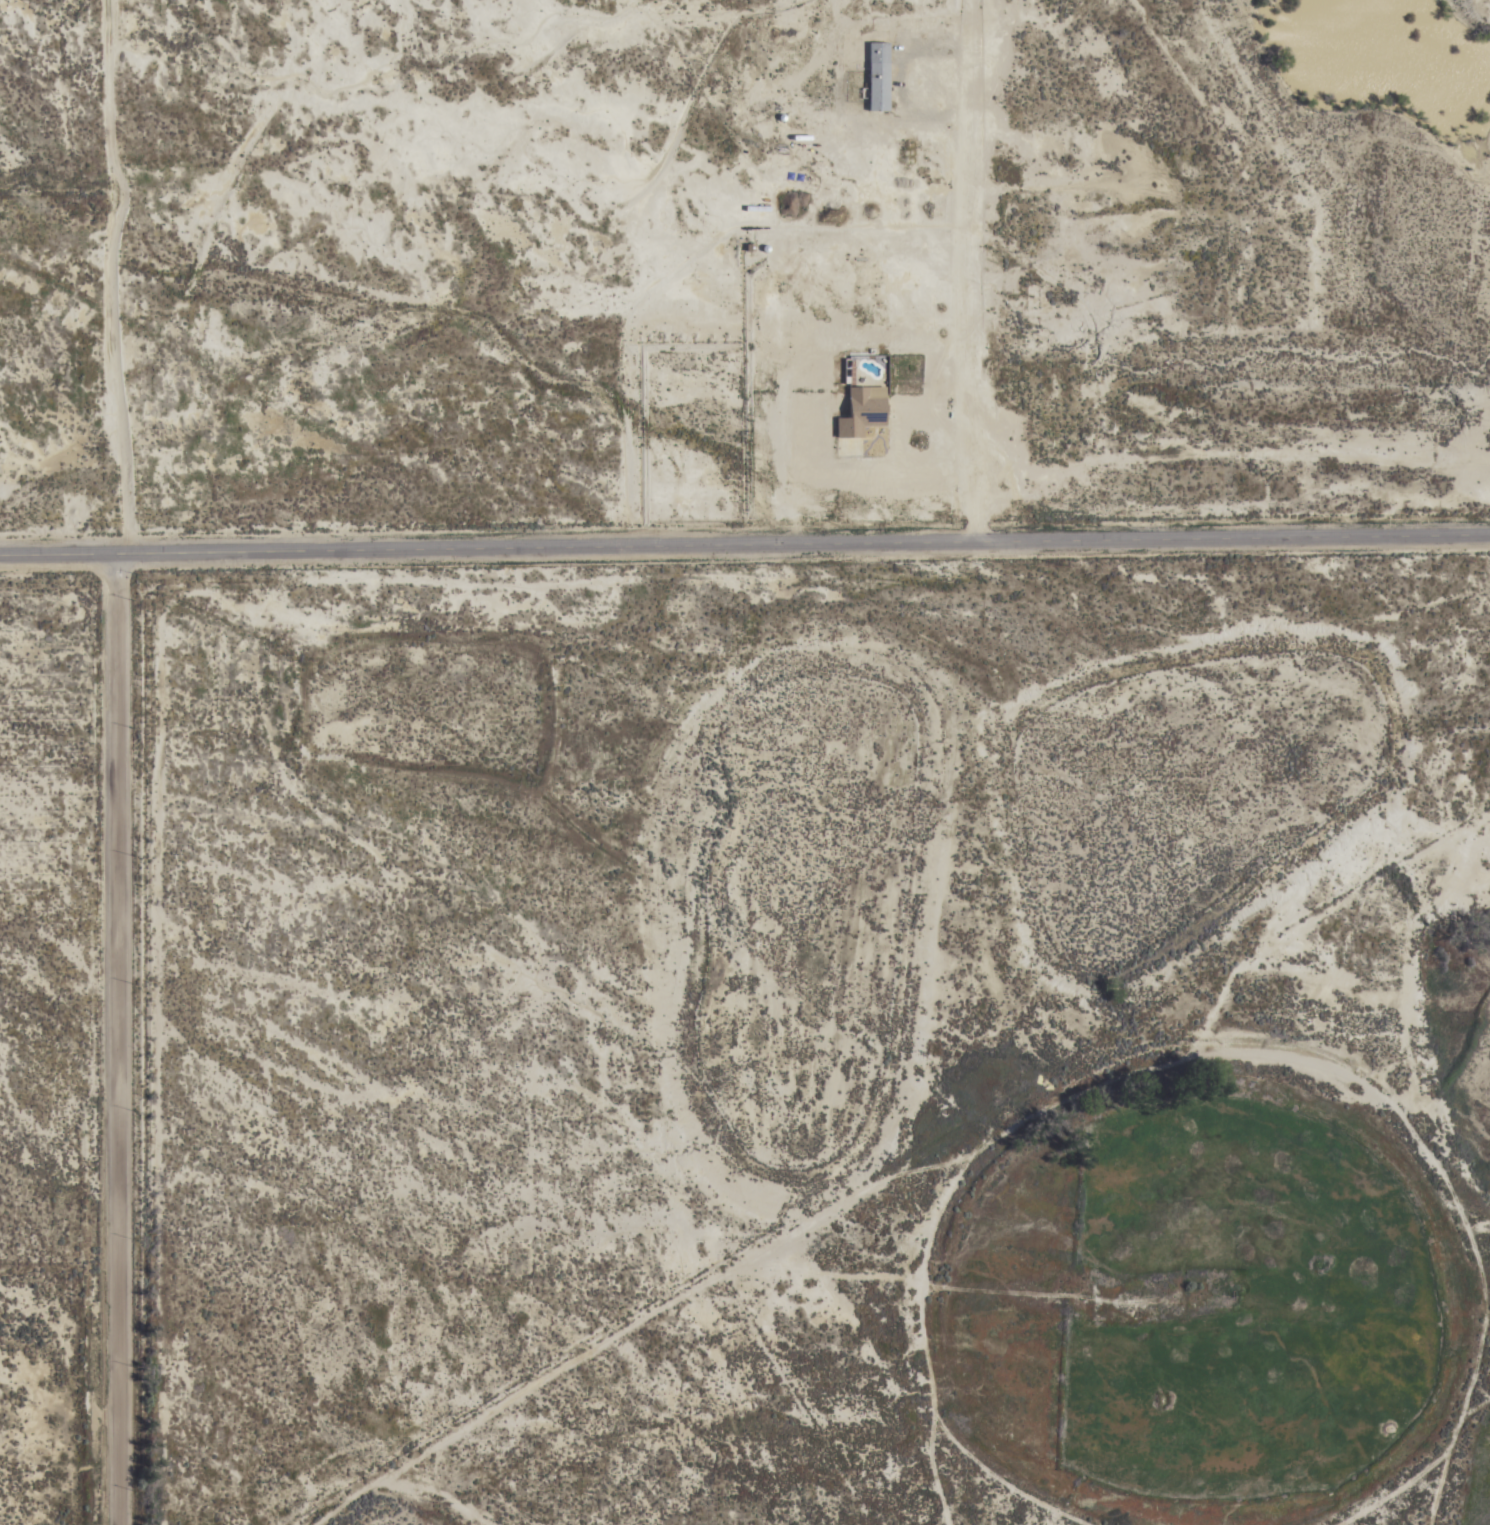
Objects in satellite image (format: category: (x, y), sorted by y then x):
building: (878, 77)
road: (104, 270)
road: (973, 289)
building: (863, 412)
road: (744, 537)
road: (123, 1032)

